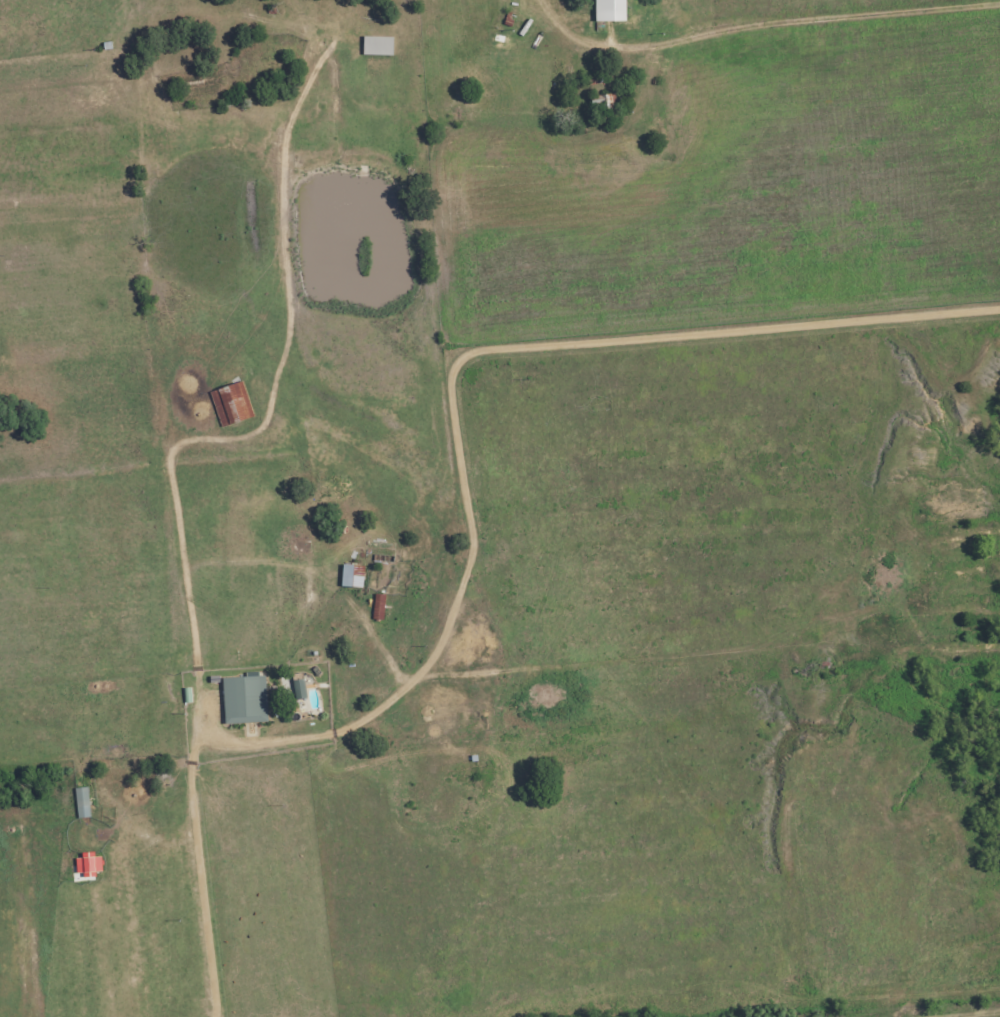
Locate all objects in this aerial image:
road: (860, 10)
building: (602, 20)
building: (374, 46)
building: (600, 102)
road: (457, 377)
building: (228, 404)
building: (380, 558)
building: (348, 576)
building: (376, 607)
building: (241, 700)
building: (79, 803)
road: (967, 1013)

